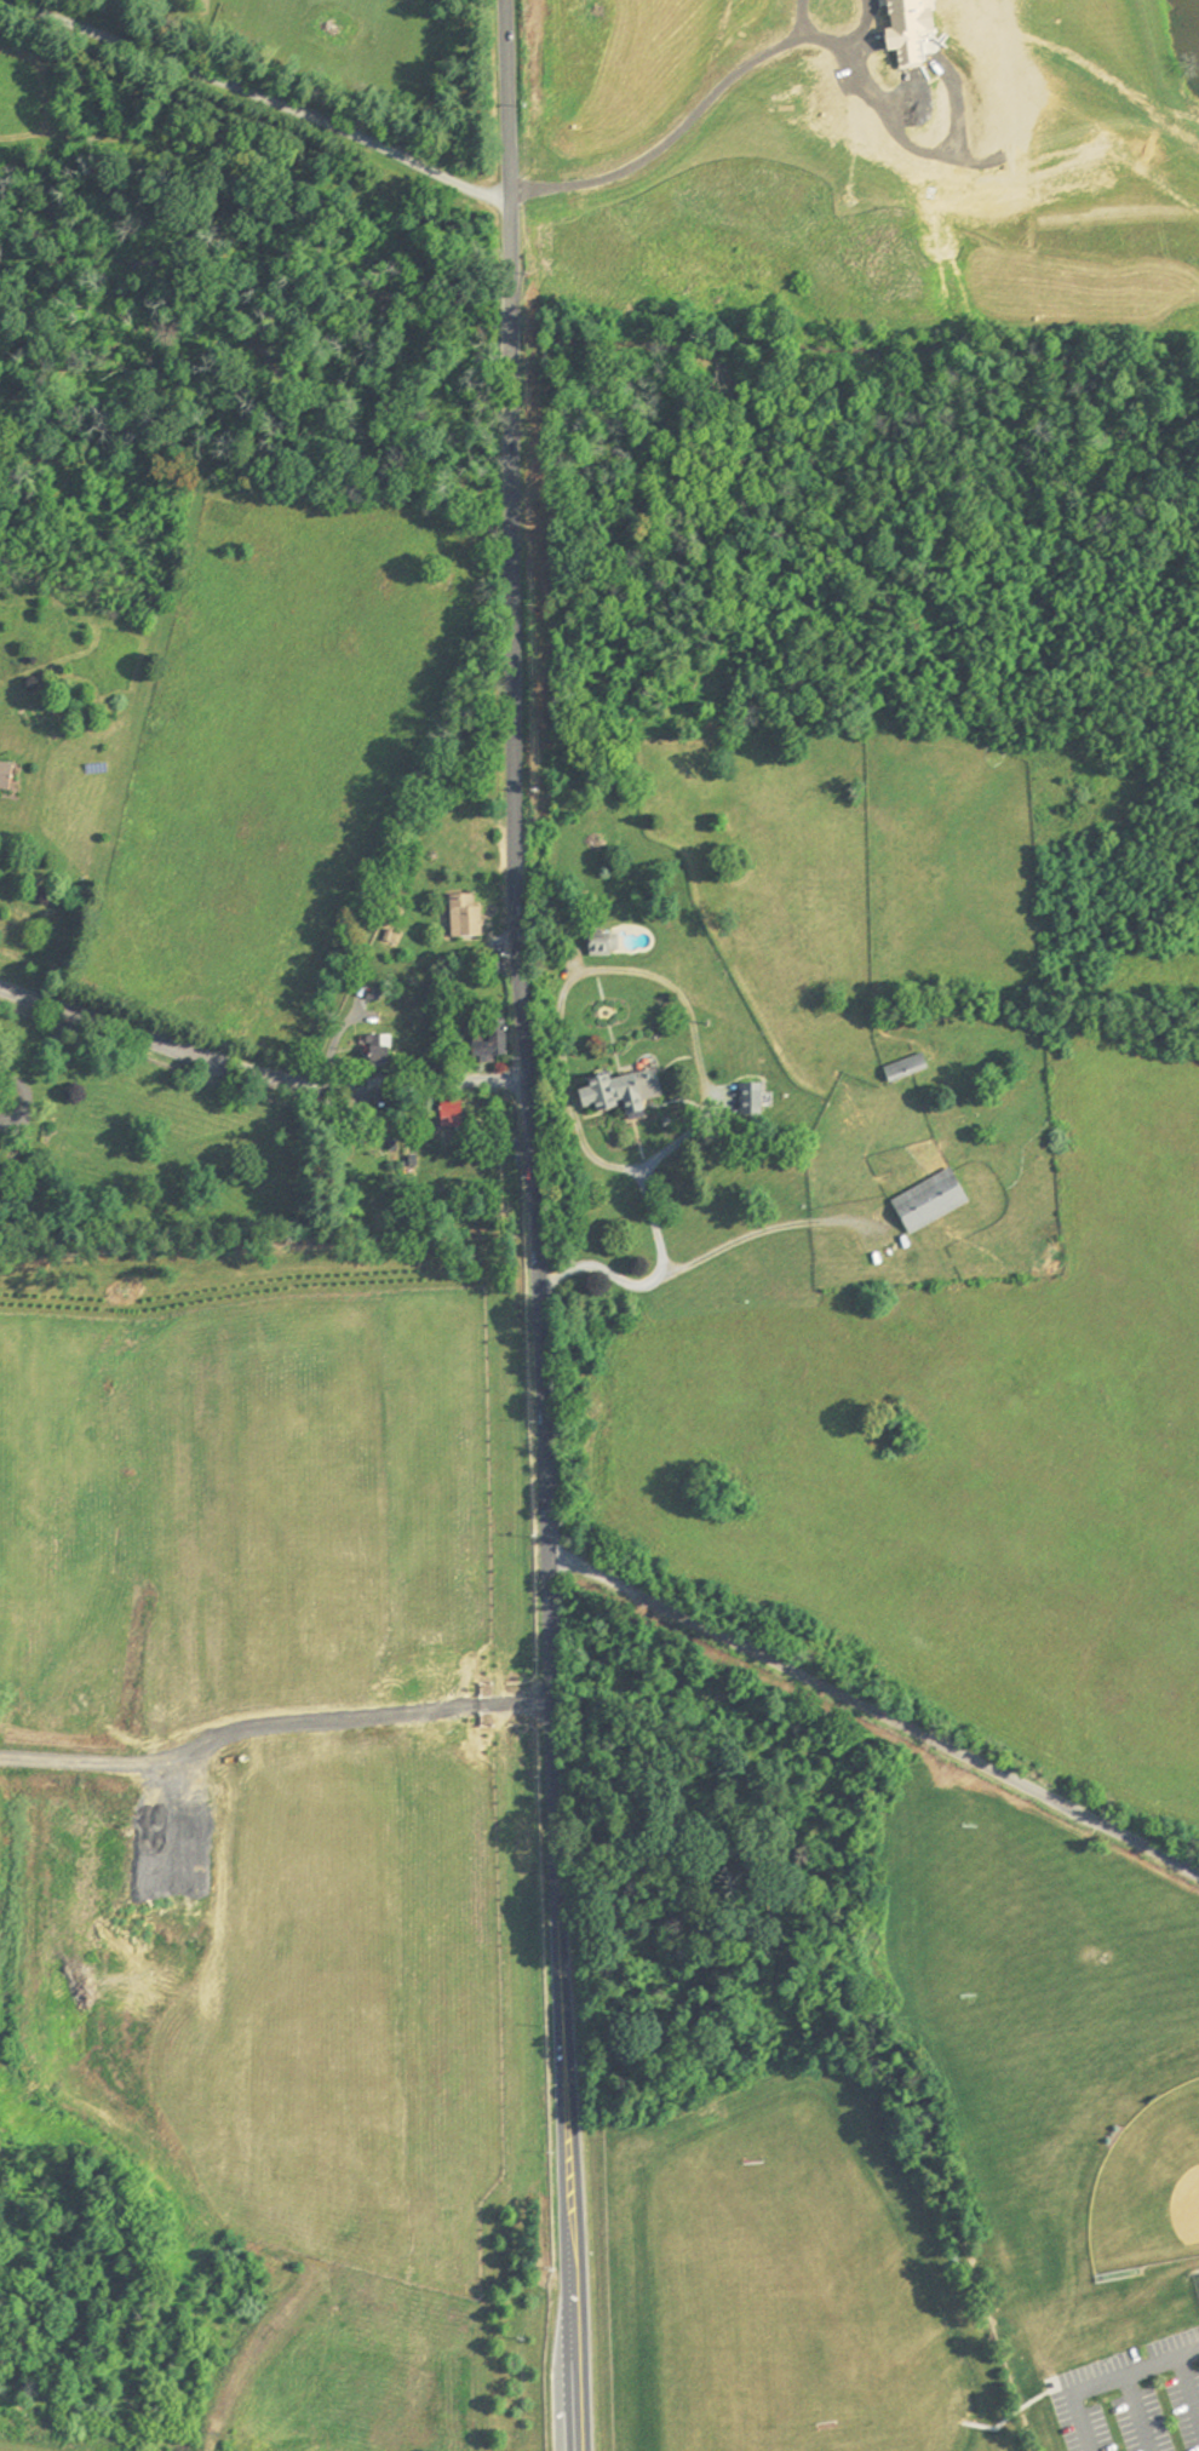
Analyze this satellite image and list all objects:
road: (258, 107)
crop: (871, 160)
crop: (272, 742)
building: (8, 775)
building: (464, 917)
building: (601, 942)
crop: (1134, 975)
building: (489, 1041)
building: (373, 1047)
building: (905, 1068)
road: (254, 1073)
building: (618, 1090)
building: (748, 1100)
building: (383, 1107)
building: (446, 1114)
building: (458, 1118)
road: (589, 1147)
road: (655, 1159)
building: (929, 1200)
road: (533, 1224)
road: (689, 1265)
crop: (964, 1459)
road: (876, 1709)
road: (272, 1728)
crop: (281, 1784)
park: (931, 2180)
park: (1152, 2181)
park: (819, 2304)
road: (1109, 2386)
road: (1019, 2411)
road: (976, 2426)

